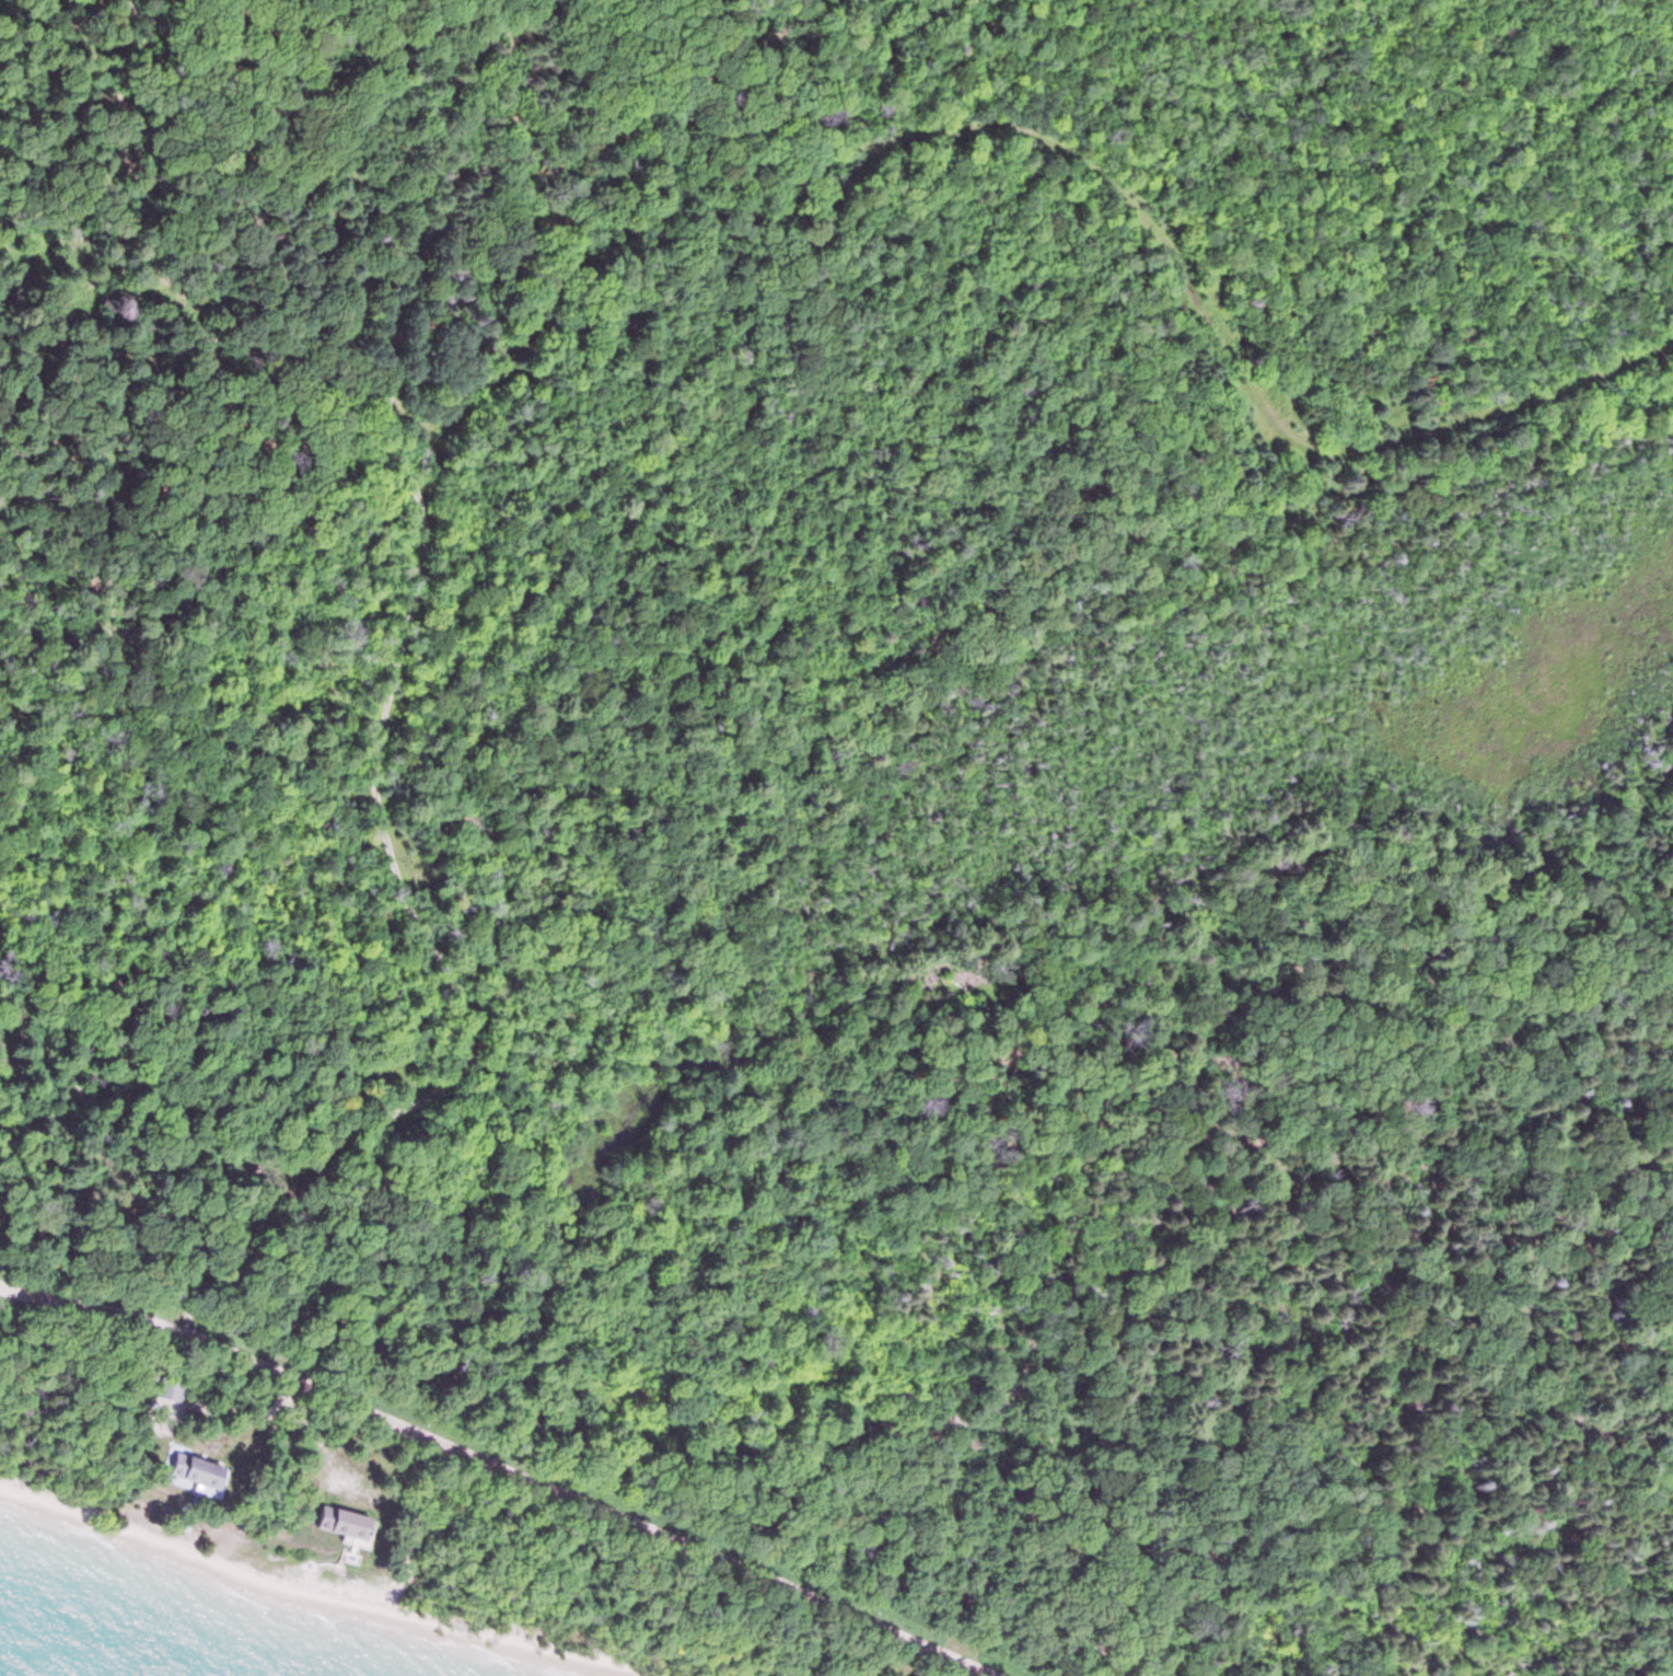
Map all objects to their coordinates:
road: (1048, 137)
road: (382, 723)
building: (172, 1390)
road: (498, 1461)
building: (186, 1471)
building: (328, 1528)

